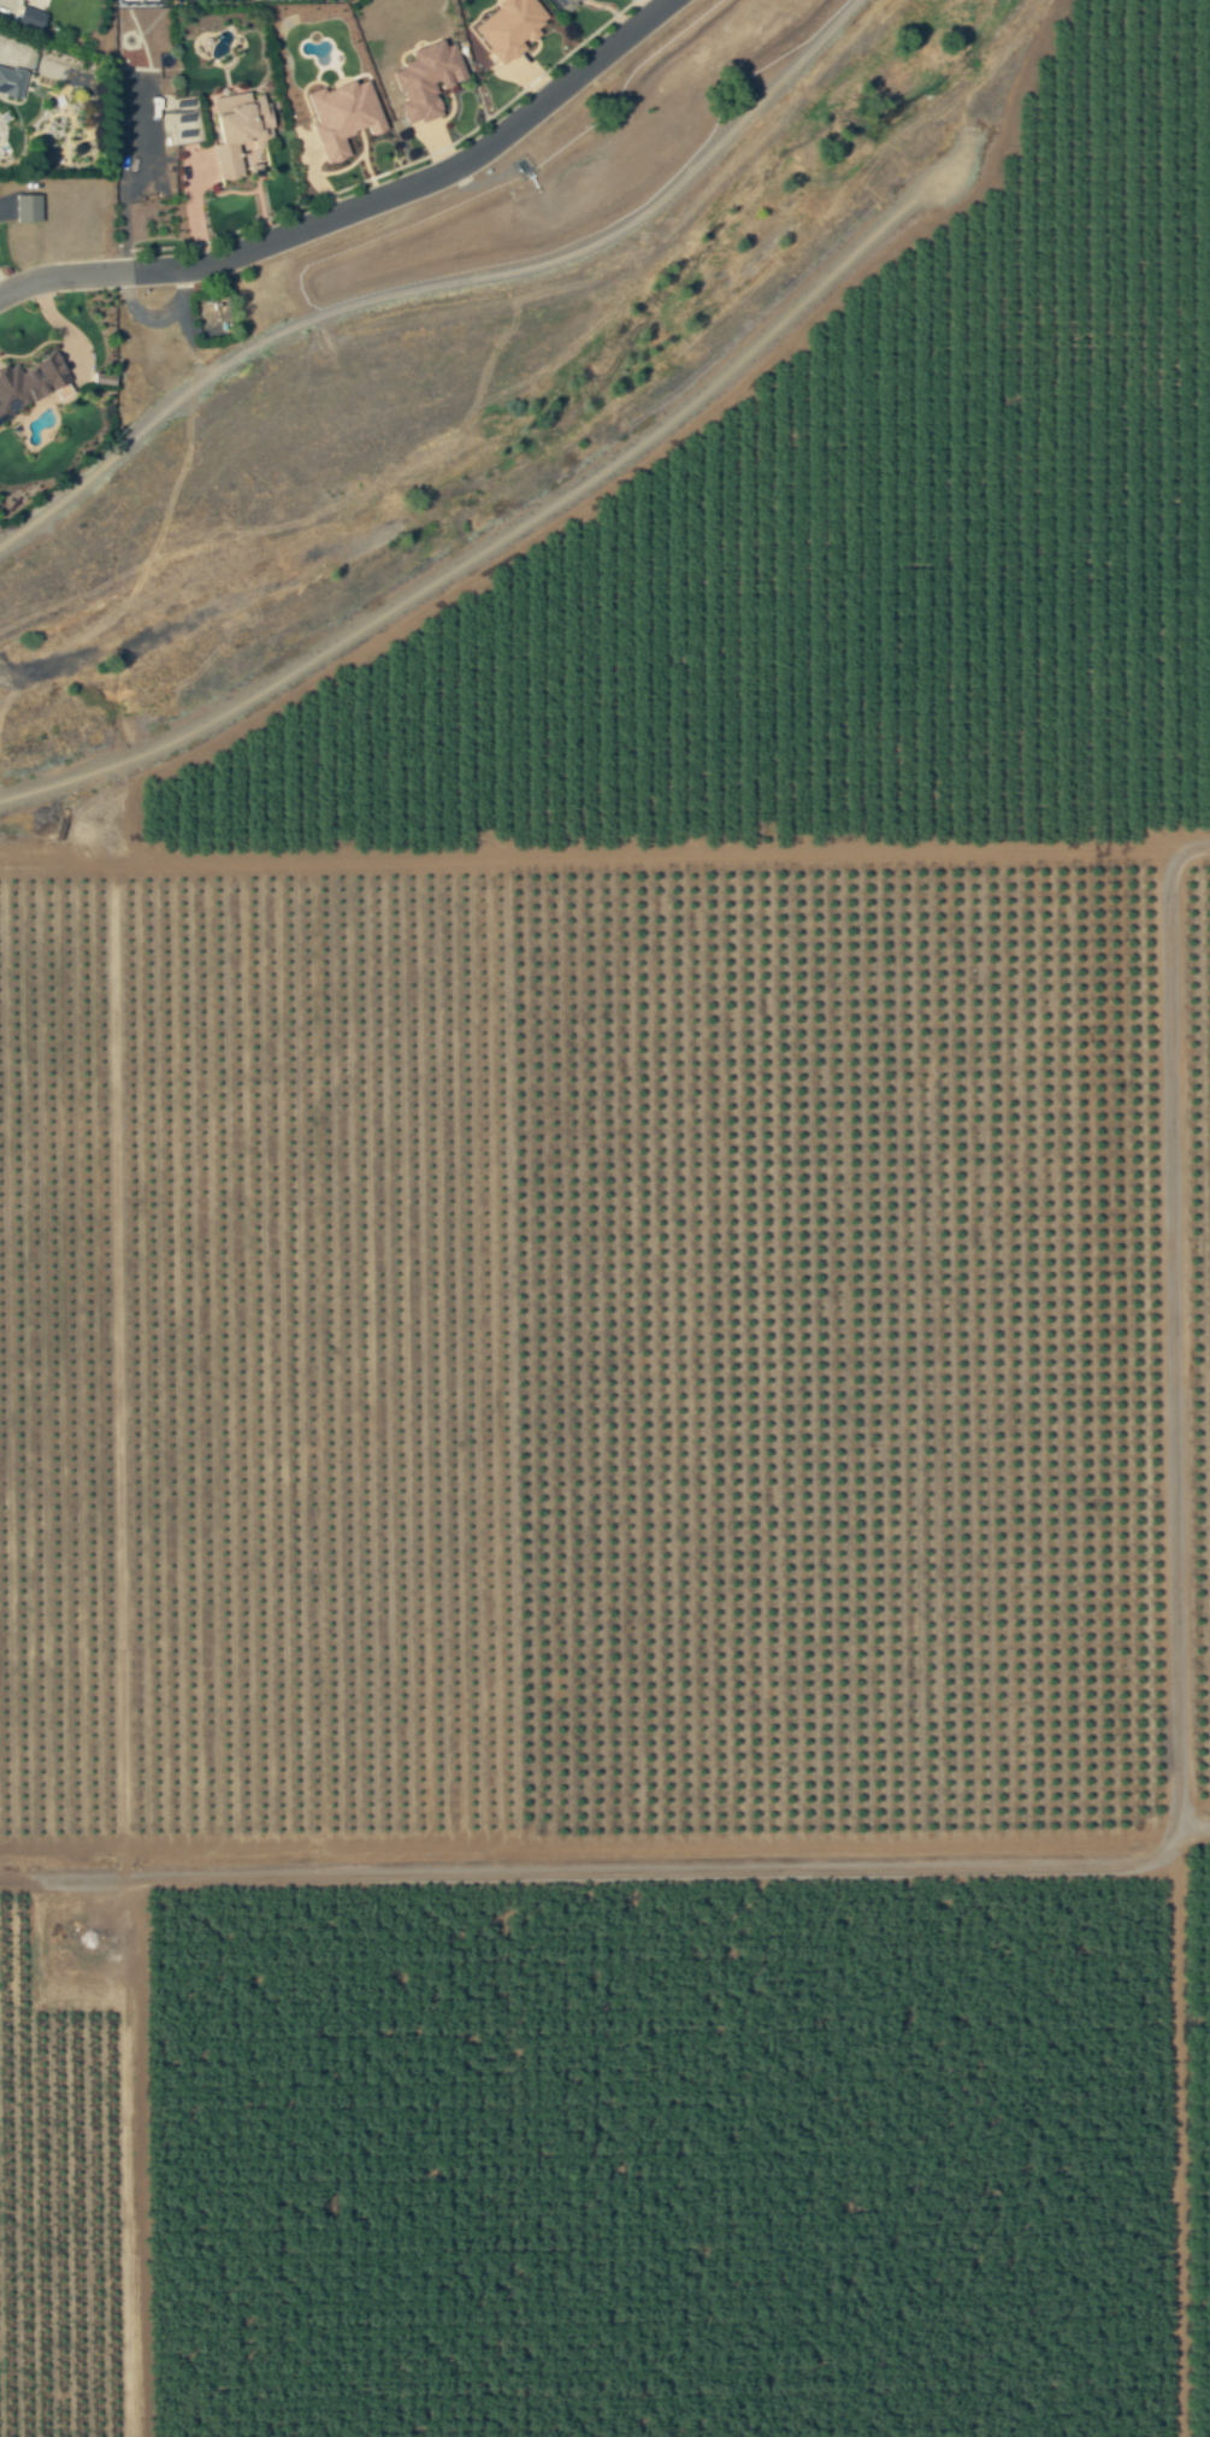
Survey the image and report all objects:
building: (569, 2)
building: (507, 28)
building: (10, 82)
building: (425, 82)
building: (341, 116)
building: (235, 131)
road: (358, 206)
building: (25, 207)
road: (437, 283)
road: (509, 526)
crop: (1197, 2127)

